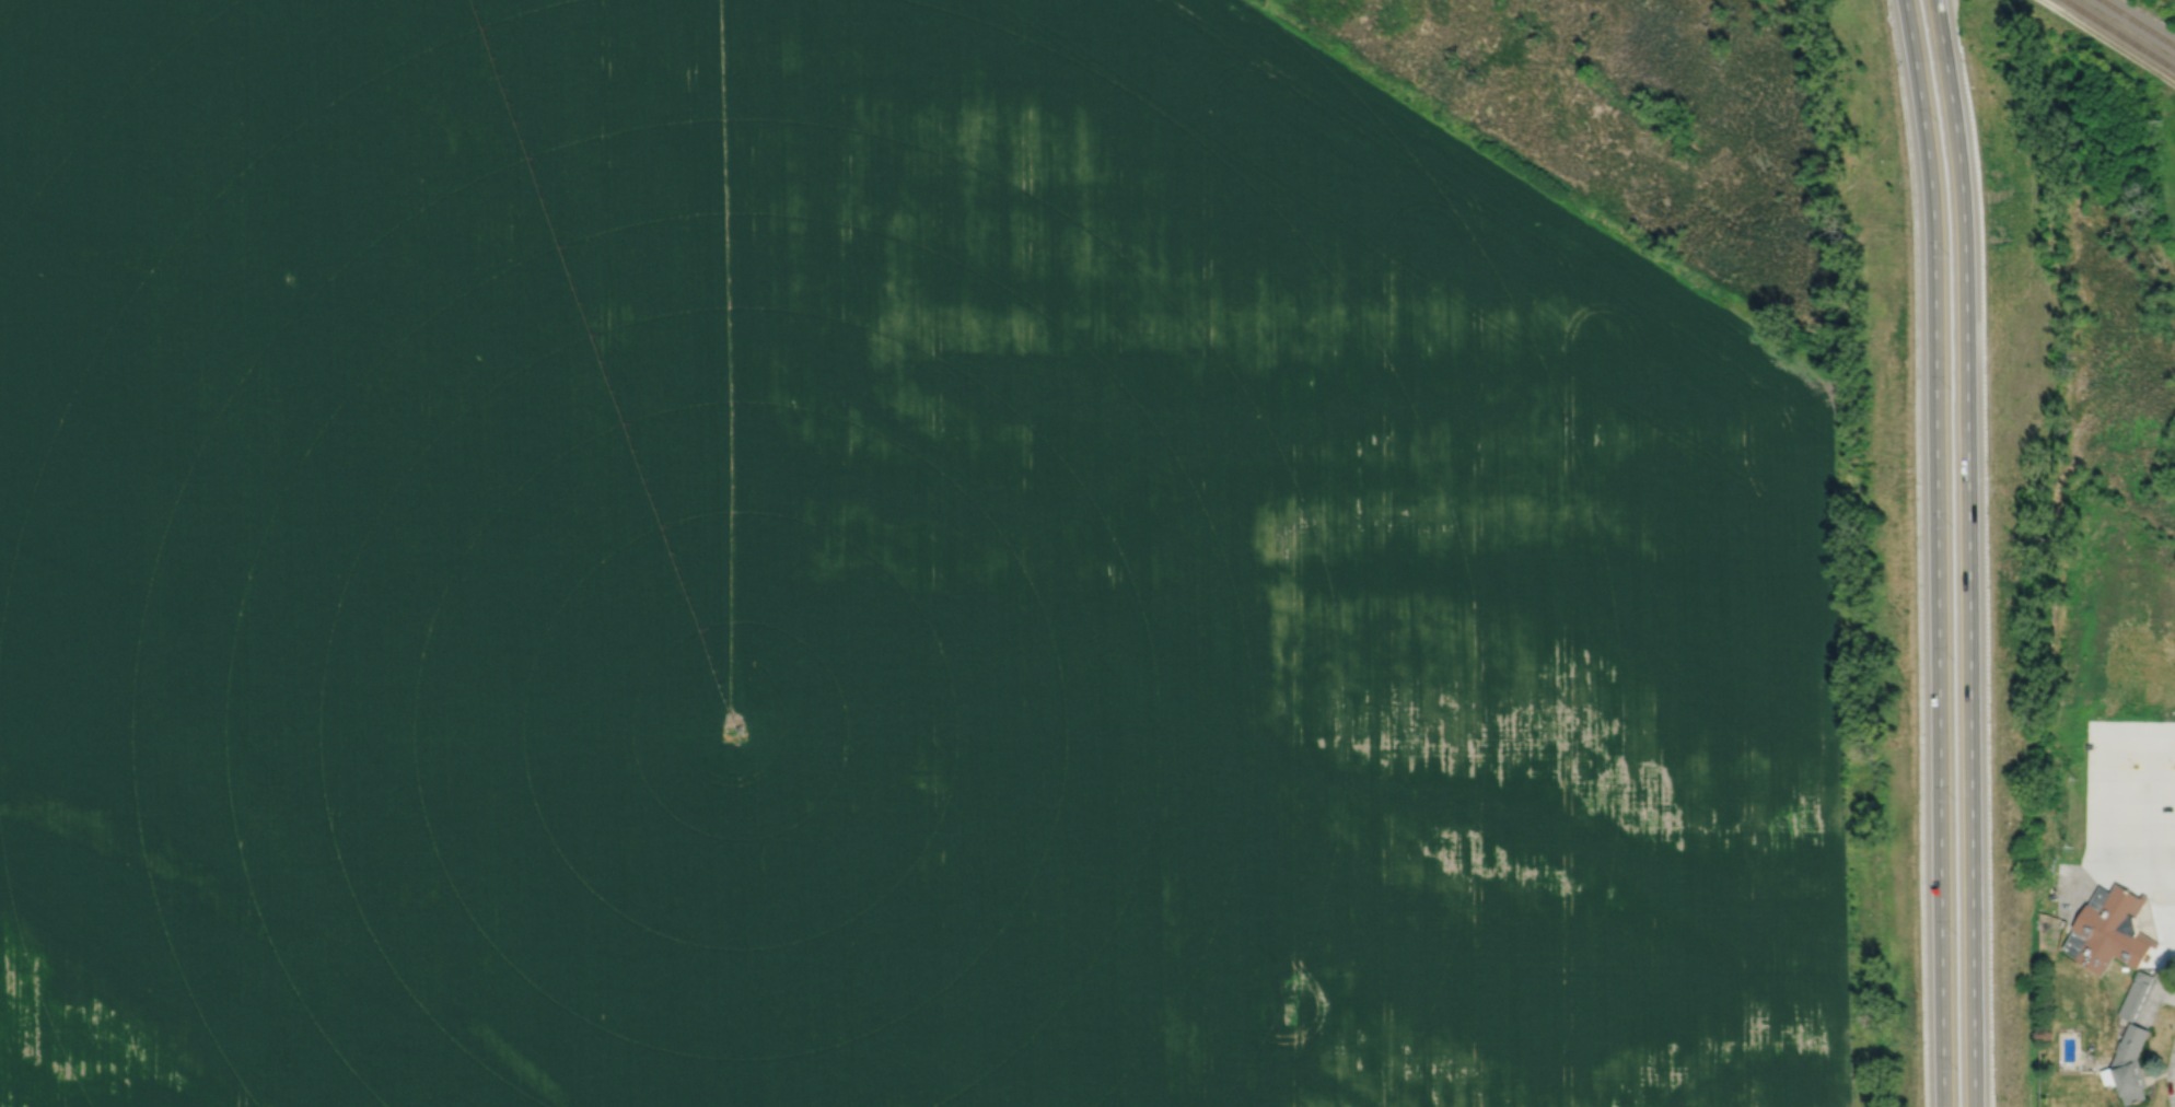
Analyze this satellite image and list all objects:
road: (1945, 10)
railway: (2138, 23)
railway: (2119, 34)
road: (1936, 552)
road: (1968, 562)
crop: (875, 579)
road: (2104, 789)
road: (2151, 794)
parking lot: (2126, 818)
road: (2171, 859)
road: (2171, 870)
road: (2078, 882)
building: (2108, 929)
road: (2155, 984)
road: (2164, 991)
building: (2135, 993)
building: (2128, 1064)
road: (2173, 1081)

